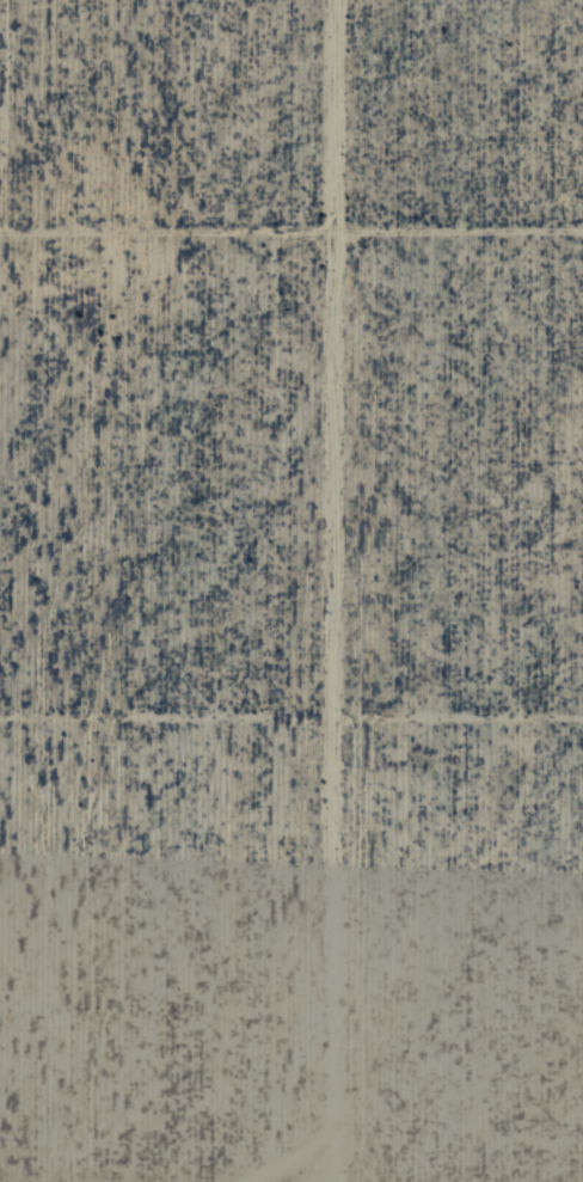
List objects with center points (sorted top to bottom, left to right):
crop: (291, 590)

